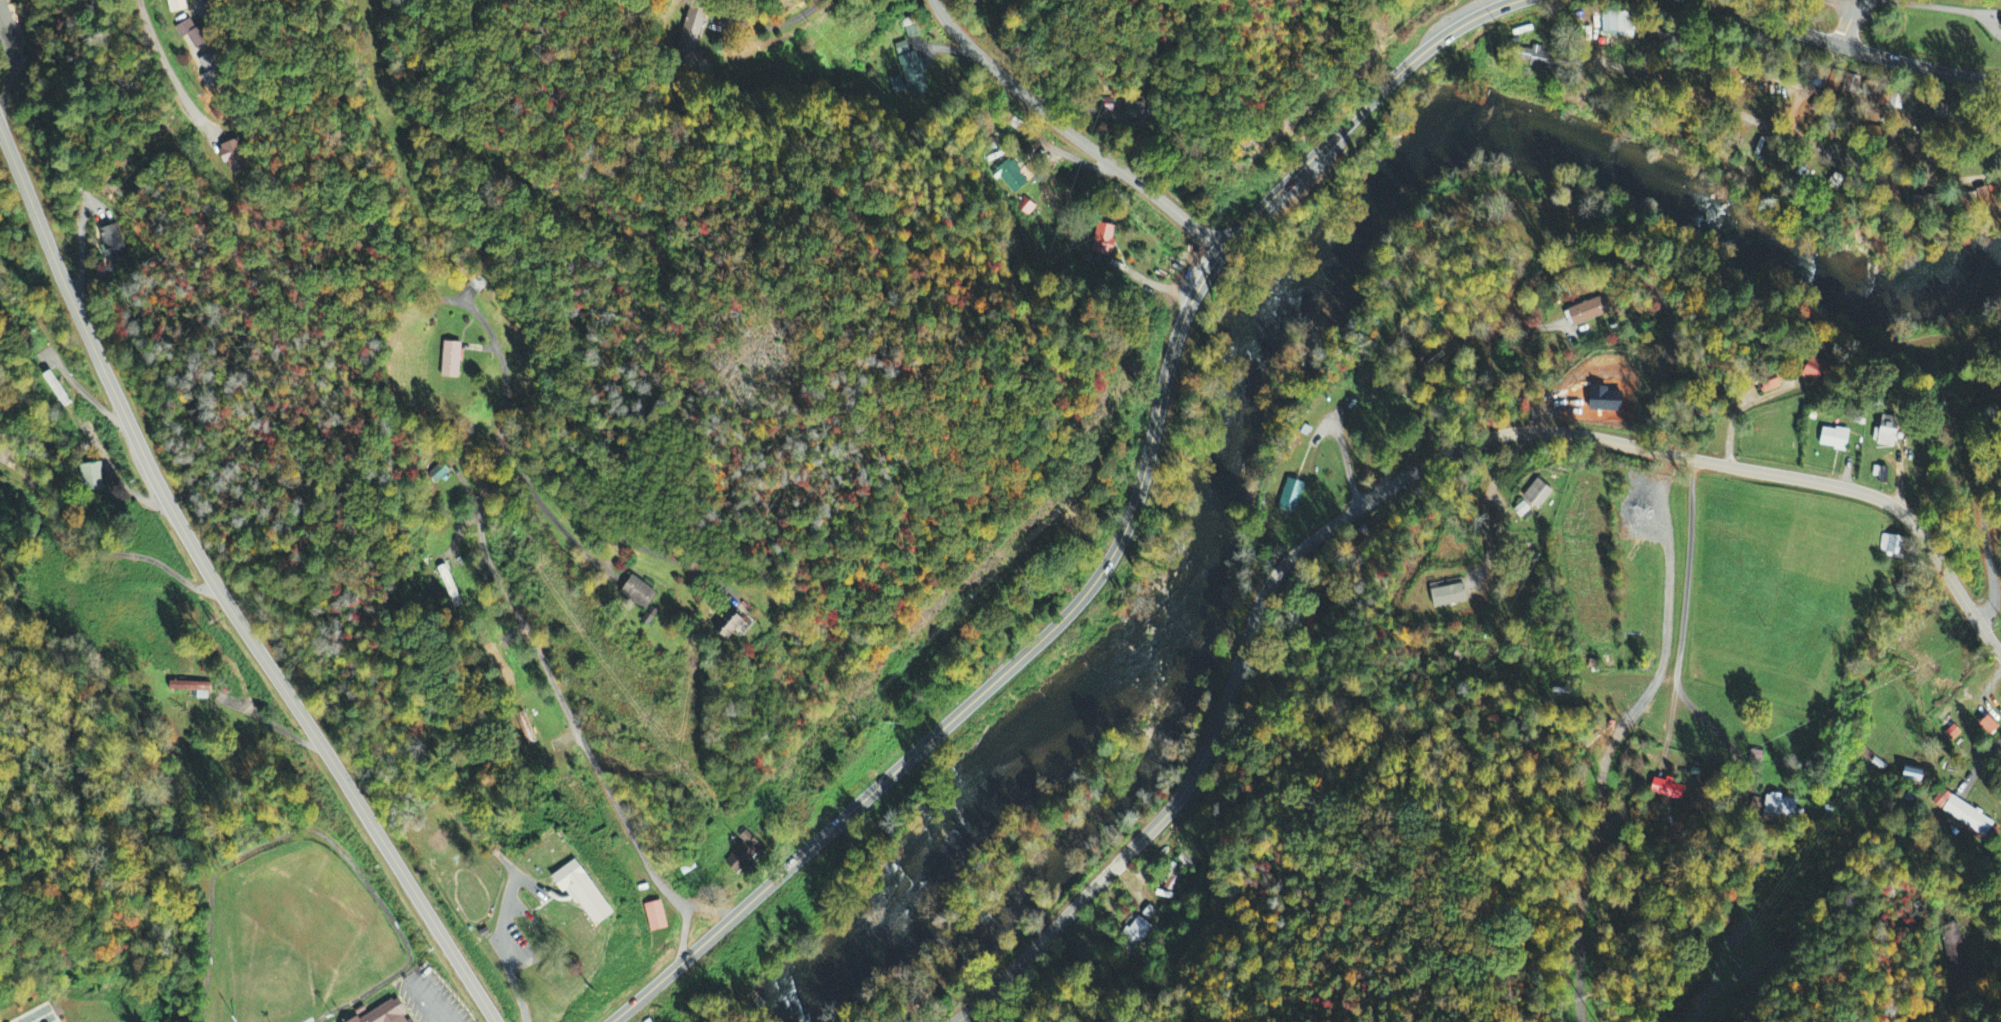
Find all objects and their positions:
building: (177, 6)
road: (208, 6)
road: (1852, 23)
building: (693, 24)
building: (1615, 25)
building: (193, 34)
road: (1839, 48)
building: (1541, 58)
building: (912, 71)
building: (1668, 71)
building: (213, 72)
road: (181, 76)
building: (1806, 82)
building: (1853, 90)
building: (1137, 112)
building: (1821, 112)
river: (1620, 122)
road: (1073, 131)
building: (234, 158)
building: (1992, 196)
building: (888, 223)
building: (1104, 240)
building: (111, 244)
building: (1863, 342)
building: (451, 361)
road: (500, 363)
building: (1819, 371)
building: (1888, 433)
building: (1836, 440)
river: (1243, 443)
building: (92, 478)
road: (1390, 488)
building: (1539, 496)
building: (1291, 498)
building: (1524, 512)
road: (557, 523)
road: (604, 531)
road: (1121, 538)
building: (1893, 547)
road: (94, 552)
road: (1684, 566)
building: (444, 577)
road: (216, 587)
building: (640, 594)
building: (1450, 597)
building: (728, 625)
building: (1609, 663)
road: (564, 703)
river: (1042, 712)
building: (1991, 728)
building: (1912, 776)
building: (1667, 790)
building: (1779, 807)
building: (1963, 814)
building: (744, 855)
building: (1187, 863)
building: (1170, 882)
building: (585, 893)
building: (1149, 915)
building: (655, 918)
building: (1134, 933)
river: (858, 934)
building: (1955, 953)
building: (388, 1014)

